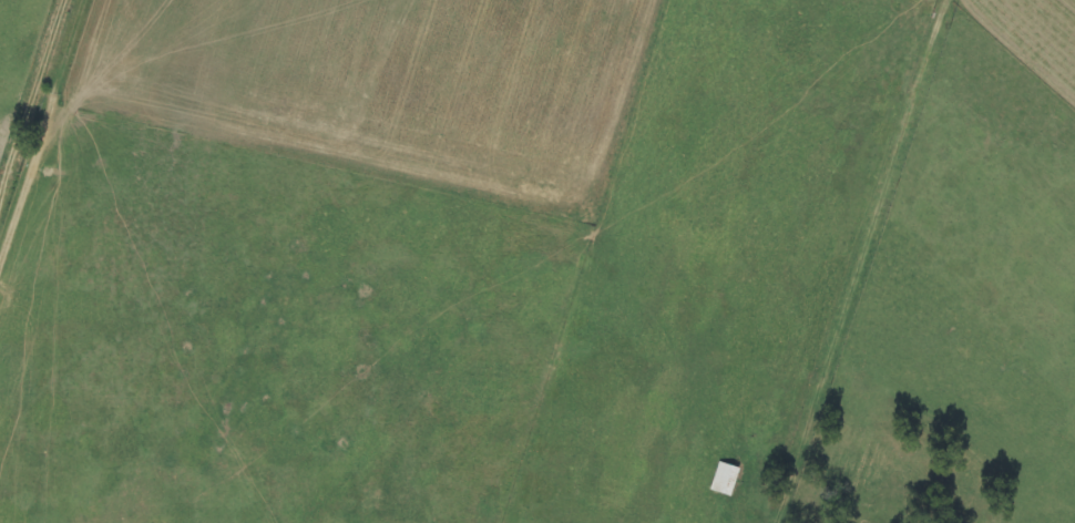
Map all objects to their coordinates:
road: (51, 163)
road: (849, 261)

